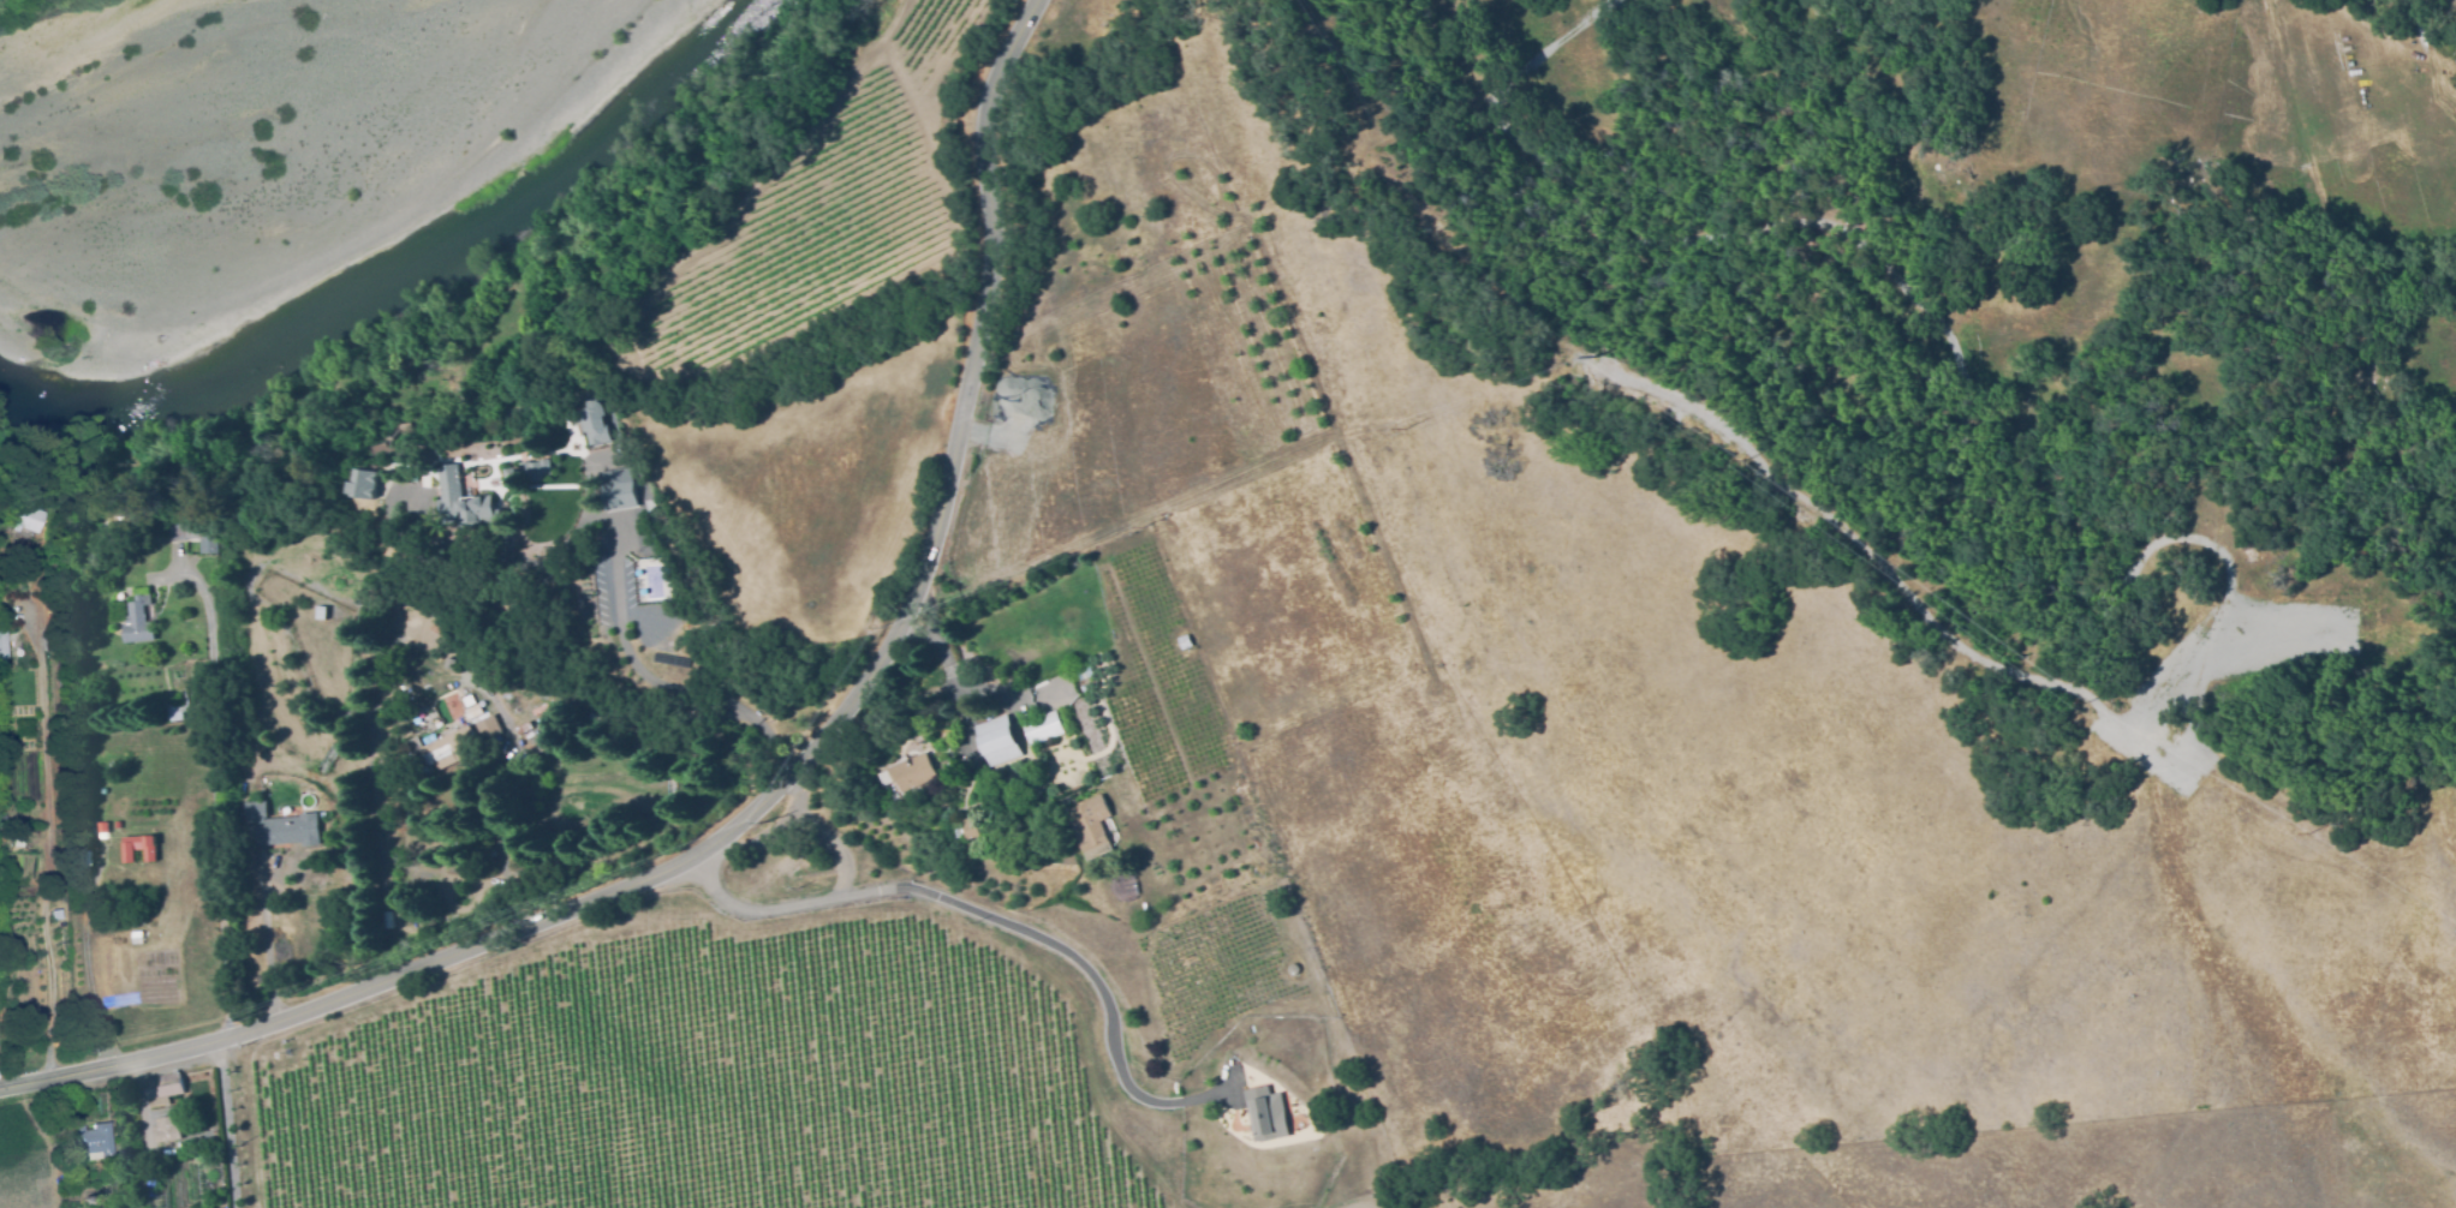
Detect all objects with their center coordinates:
river: (410, 280)
building: (594, 424)
building: (531, 472)
building: (364, 484)
building: (644, 486)
building: (618, 490)
building: (461, 503)
building: (22, 516)
building: (197, 536)
building: (320, 611)
building: (138, 618)
building: (1182, 639)
building: (2, 651)
building: (391, 656)
building: (1085, 674)
road: (655, 682)
building: (467, 701)
building: (174, 710)
building: (457, 711)
building: (488, 728)
building: (1042, 729)
building: (997, 737)
building: (448, 749)
building: (393, 752)
building: (111, 766)
building: (913, 772)
road: (780, 783)
road: (225, 785)
building: (255, 812)
building: (941, 814)
building: (118, 824)
building: (103, 826)
building: (1091, 826)
building: (18, 829)
building: (967, 829)
road: (798, 830)
building: (287, 831)
building: (16, 841)
road: (48, 842)
building: (793, 844)
building: (139, 847)
building: (127, 889)
building: (54, 913)
road: (999, 919)
road: (87, 962)
building: (1292, 968)
building: (161, 1089)
building: (1264, 1111)
road: (225, 1126)
building: (166, 1130)
building: (90, 1143)
building: (117, 1168)
building: (209, 1200)

